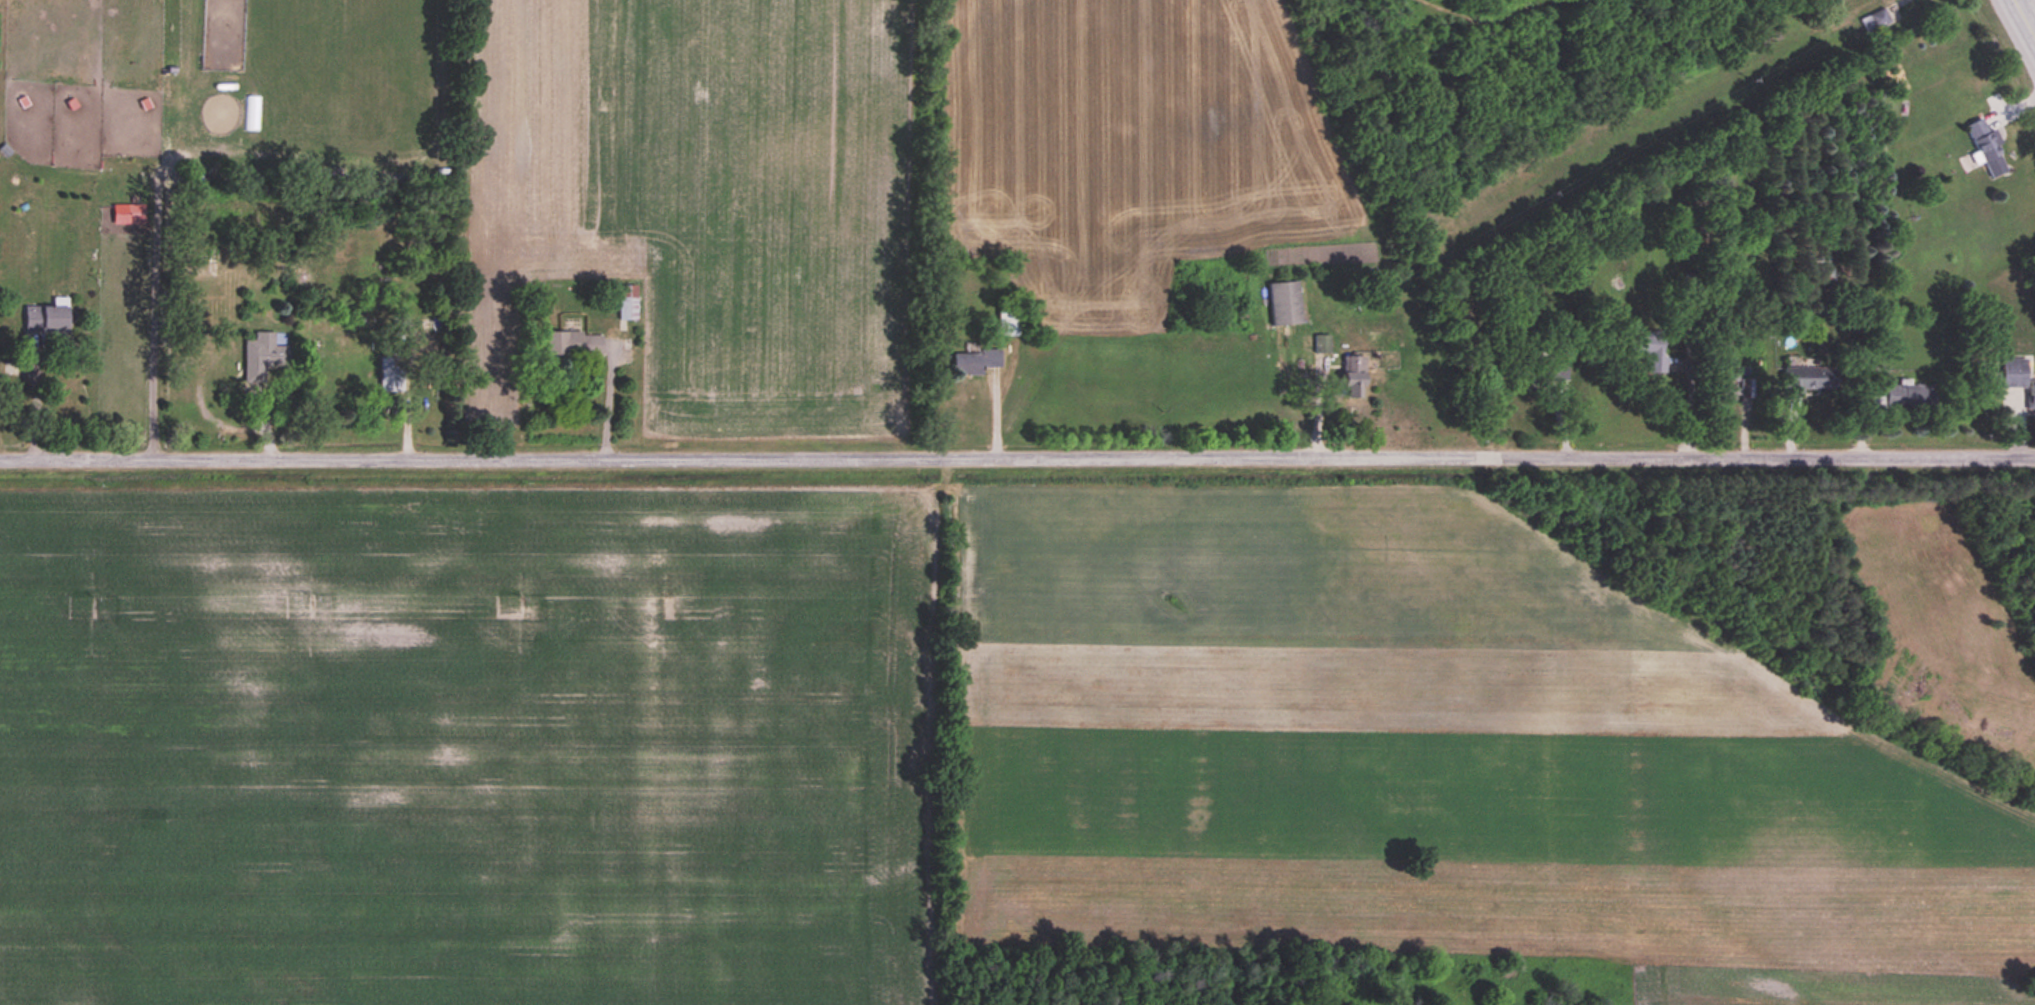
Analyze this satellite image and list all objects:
building: (1879, 19)
road: (2022, 21)
building: (252, 113)
building: (1983, 140)
building: (135, 213)
building: (628, 303)
building: (1284, 304)
building: (47, 318)
building: (1009, 321)
building: (574, 344)
building: (1321, 344)
building: (1647, 348)
building: (264, 357)
building: (974, 362)
building: (1555, 372)
building: (2015, 373)
building: (388, 375)
building: (1353, 377)
building: (1810, 379)
building: (1723, 384)
road: (1313, 391)
building: (1905, 397)
building: (2033, 397)
road: (1689, 403)
road: (607, 404)
road: (35, 405)
road: (1017, 459)

